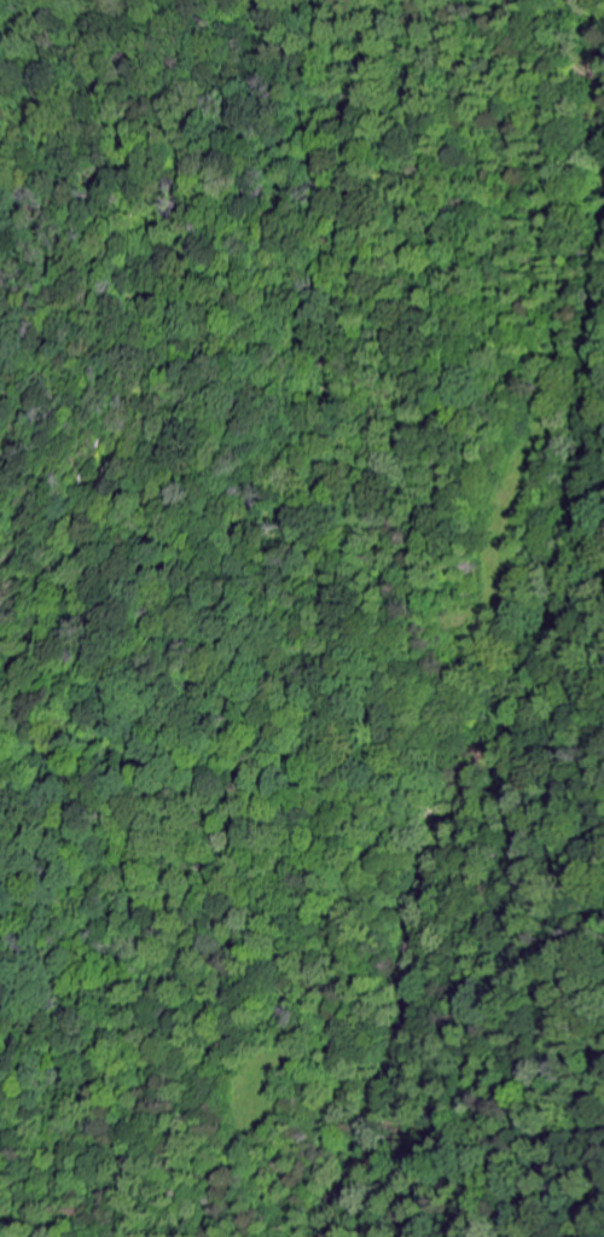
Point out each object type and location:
road: (506, 618)

